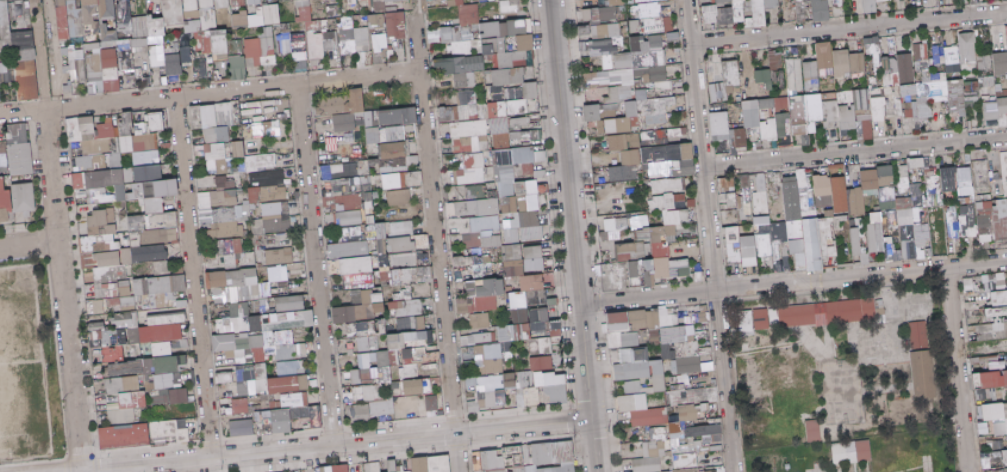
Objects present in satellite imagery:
building: (283, 0)
building: (376, 0)
building: (827, 0)
building: (880, 0)
building: (228, 1)
building: (260, 1)
building: (268, 1)
building: (275, 1)
building: (350, 1)
building: (385, 1)
building: (480, 1)
building: (490, 1)
building: (628, 1)
building: (634, 1)
building: (719, 1)
building: (815, 1)
building: (951, 1)
building: (971, 1)
building: (60, 2)
building: (236, 2)
building: (252, 2)
building: (300, 2)
building: (456, 2)
building: (612, 2)
building: (711, 2)
building: (827, 2)
building: (221, 3)
building: (263, 3)
road: (414, 3)
building: (434, 3)
building: (734, 3)
building: (745, 3)
building: (801, 3)
building: (835, 3)
building: (204, 4)
building: (718, 4)
building: (726, 4)
building: (768, 4)
building: (157, 5)
building: (189, 5)
building: (525, 5)
building: (507, 6)
building: (867, 6)
building: (237, 7)
building: (378, 7)
building: (734, 7)
building: (786, 7)
building: (24, 9)
building: (149, 9)
building: (389, 9)
building: (648, 9)
building: (818, 9)
building: (96, 10)
building: (198, 10)
building: (257, 10)
building: (9, 11)
building: (330, 11)
building: (354, 11)
building: (663, 11)
building: (88, 12)
building: (172, 12)
building: (338, 12)
building: (619, 12)
building: (633, 12)
building: (756, 12)
building: (606, 13)
building: (707, 13)
building: (798, 13)
building: (806, 13)
building: (190, 14)
building: (269, 14)
building: (302, 14)
building: (321, 14)
building: (467, 14)
building: (526, 14)
building: (588, 14)
building: (593, 14)
building: (722, 15)
building: (788, 16)
building: (344, 17)
building: (502, 17)
building: (122, 18)
building: (61, 19)
building: (74, 19)
building: (207, 19)
building: (255, 19)
building: (99, 20)
building: (238, 20)
building: (619, 20)
building: (332, 21)
building: (350, 21)
building: (374, 21)
building: (252, 23)
building: (584, 23)
building: (108, 24)
building: (393, 24)
building: (666, 24)
building: (322, 25)
building: (94, 26)
building: (191, 26)
building: (276, 26)
building: (526, 26)
building: (632, 26)
building: (649, 26)
building: (155, 27)
building: (514, 27)
building: (468, 28)
building: (624, 28)
building: (3, 29)
building: (4, 29)
building: (284, 29)
building: (378, 29)
building: (488, 29)
building: (501, 29)
building: (582, 30)
building: (612, 30)
building: (600, 31)
building: (621, 31)
building: (217, 32)
building: (264, 32)
building: (592, 32)
building: (454, 33)
building: (90, 34)
building: (444, 34)
building: (475, 34)
building: (150, 35)
building: (127, 36)
building: (434, 37)
building: (466, 37)
building: (523, 37)
building: (202, 38)
building: (322, 39)
building: (504, 39)
building: (20, 40)
building: (153, 40)
building: (345, 40)
building: (360, 40)
building: (474, 40)
building: (510, 40)
building: (515, 40)
building: (138, 42)
building: (185, 42)
building: (377, 42)
building: (492, 42)
building: (106, 44)
building: (122, 44)
building: (217, 44)
building: (282, 44)
building: (90, 45)
building: (292, 45)
building: (315, 45)
building: (465, 45)
building: (873, 45)
building: (265, 46)
building: (456, 46)
building: (250, 47)
building: (299, 47)
building: (387, 47)
building: (604, 47)
building: (233, 48)
building: (475, 48)
building: (967, 48)
building: (170, 49)
building: (207, 49)
building: (448, 49)
building: (155, 50)
building: (63, 51)
building: (89, 51)
building: (138, 51)
building: (362, 53)
building: (379, 53)
road: (39, 54)
building: (124, 54)
building: (22, 55)
building: (826, 55)
building: (184, 56)
building: (200, 56)
building: (276, 56)
building: (219, 57)
building: (108, 58)
building: (200, 59)
building: (208, 59)
building: (266, 59)
building: (776, 59)
building: (891, 59)
building: (155, 60)
building: (255, 61)
building: (248, 62)
building: (849, 62)
building: (1000, 63)
building: (124, 64)
building: (171, 64)
building: (75, 65)
building: (93, 65)
building: (8, 66)
building: (207, 66)
building: (239, 66)
building: (301, 66)
building: (231, 67)
building: (906, 68)
building: (64, 69)
building: (200, 69)
building: (462, 69)
building: (161, 70)
building: (125, 72)
building: (137, 72)
building: (150, 72)
building: (732, 72)
building: (109, 73)
building: (794, 74)
building: (811, 75)
building: (6, 76)
building: (765, 77)
building: (24, 79)
building: (778, 79)
building: (159, 80)
building: (88, 81)
building: (10, 83)
building: (937, 85)
building: (909, 90)
building: (717, 93)
building: (614, 94)
building: (972, 94)
building: (957, 96)
building: (656, 107)
building: (879, 109)
building: (997, 110)
building: (832, 113)
building: (400, 116)
building: (594, 117)
building: (778, 119)
building: (219, 120)
building: (346, 120)
building: (157, 122)
building: (721, 123)
building: (126, 133)
building: (91, 134)
building: (469, 136)
building: (741, 138)
building: (635, 140)
building: (619, 142)
building: (239, 149)
building: (395, 149)
building: (20, 151)
building: (218, 157)
building: (147, 158)
building: (413, 160)
building: (669, 160)
building: (917, 162)
building: (627, 167)
building: (472, 169)
building: (345, 170)
building: (838, 170)
building: (268, 175)
road: (567, 177)
building: (904, 177)
building: (965, 177)
building: (416, 178)
building: (107, 179)
building: (949, 179)
building: (394, 180)
building: (668, 185)
building: (824, 185)
building: (870, 186)
building: (937, 187)
building: (225, 192)
building: (729, 192)
building: (841, 194)
building: (256, 195)
building: (25, 197)
building: (399, 197)
building: (5, 200)
building: (988, 201)
building: (905, 211)
building: (277, 217)
building: (968, 217)
building: (349, 218)
building: (225, 220)
building: (640, 221)
building: (484, 223)
building: (154, 224)
building: (616, 224)
building: (762, 225)
building: (403, 228)
building: (803, 230)
building: (876, 232)
building: (103, 233)
road: (708, 235)
road: (436, 239)
building: (491, 239)
building: (923, 241)
building: (858, 242)
building: (404, 244)
building: (663, 244)
building: (743, 245)
building: (232, 249)
building: (349, 249)
building: (632, 251)
building: (893, 251)
building: (279, 256)
building: (425, 258)
building: (534, 258)
building: (407, 260)
building: (476, 266)
building: (161, 267)
building: (112, 273)
building: (282, 273)
building: (524, 273)
building: (235, 285)
building: (266, 290)
building: (360, 291)
building: (491, 294)
building: (141, 298)
building: (291, 303)
building: (98, 307)
building: (408, 307)
building: (851, 310)
building: (794, 316)
building: (701, 317)
building: (167, 319)
building: (648, 319)
building: (762, 319)
building: (265, 320)
building: (480, 320)
building: (673, 320)
building: (747, 320)
building: (620, 321)
building: (413, 323)
building: (545, 323)
building: (528, 326)
building: (370, 333)
building: (920, 333)
building: (654, 335)
building: (483, 337)
building: (167, 339)
building: (630, 339)
building: (672, 340)
building: (108, 342)
building: (242, 346)
building: (291, 351)
building: (392, 357)
building: (369, 359)
building: (489, 359)
building: (977, 360)
building: (543, 363)
building: (687, 366)
building: (149, 367)
park: (21, 368)
building: (291, 368)
building: (641, 368)
building: (411, 370)
building: (924, 374)
building: (226, 377)
building: (990, 379)
building: (268, 380)
building: (168, 381)
building: (418, 386)
building: (547, 387)
building: (492, 390)
building: (180, 395)
building: (161, 397)
building: (126, 399)
building: (432, 403)
building: (240, 405)
building: (698, 405)
building: (383, 407)
building: (642, 410)
building: (996, 412)
building: (359, 413)
building: (316, 417)
building: (283, 421)
building: (242, 428)
building: (984, 428)
building: (1001, 428)
building: (172, 430)
building: (814, 431)
building: (707, 434)
building: (125, 436)
building: (694, 447)
building: (860, 451)
building: (650, 457)
building: (533, 458)
building: (680, 461)
building: (432, 464)
building: (393, 465)
building: (375, 467)
building: (342, 468)
building: (406, 470)
building: (686, 470)
building: (716, 471)

